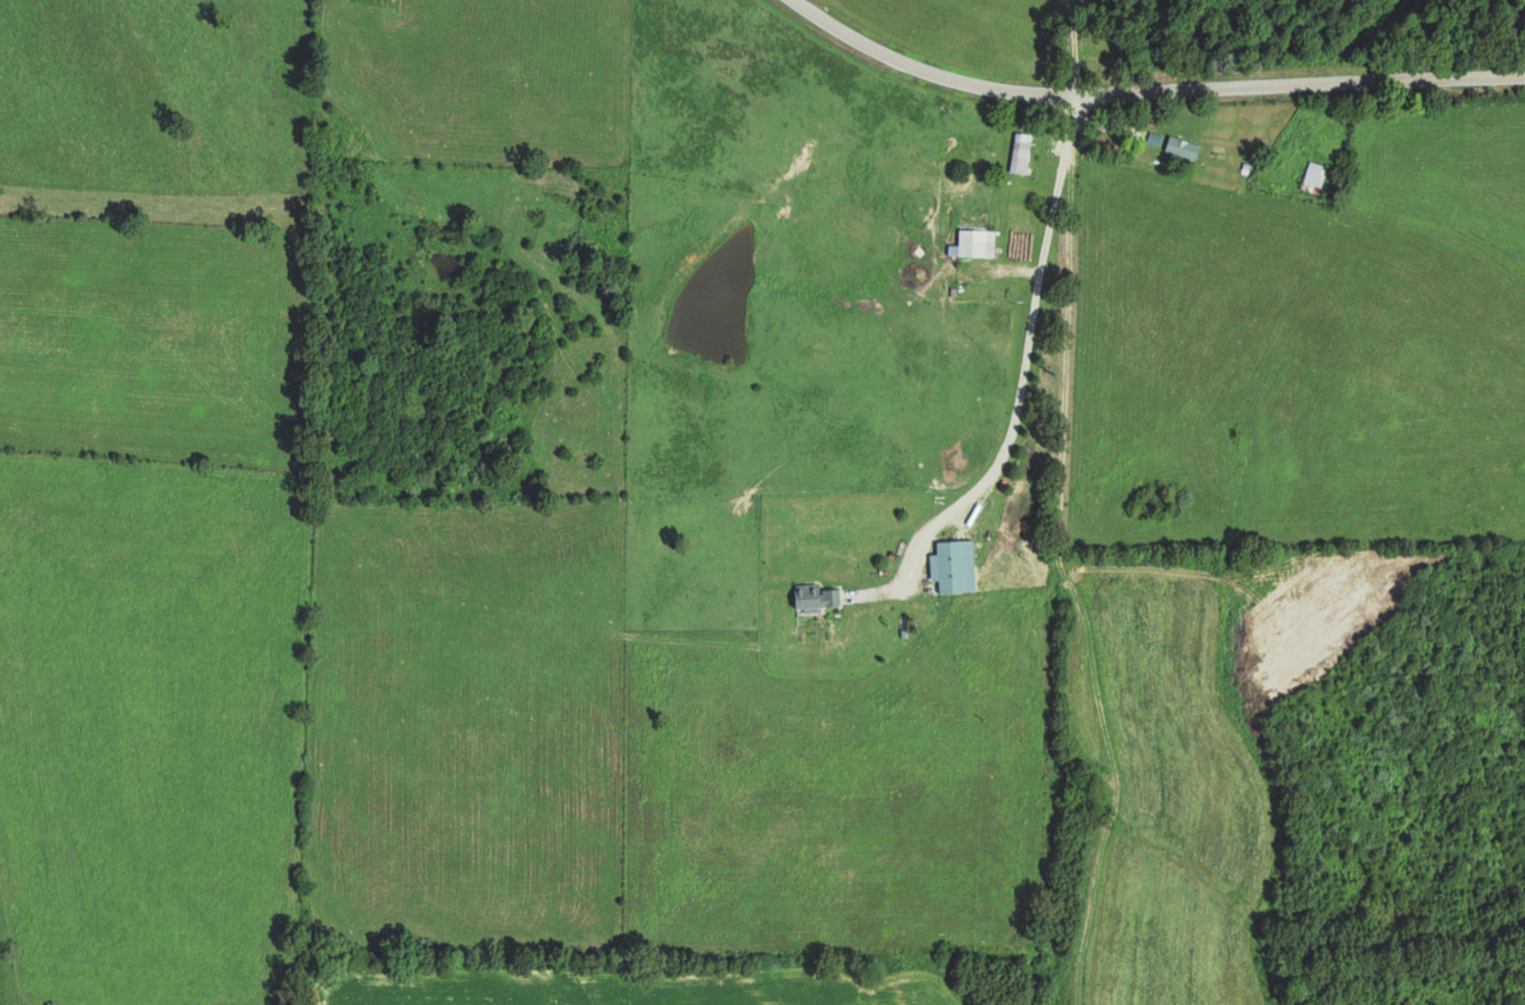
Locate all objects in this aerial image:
road: (1160, 87)
building: (1180, 147)
building: (1019, 152)
building: (1312, 175)
building: (975, 242)
road: (1033, 342)
building: (949, 566)
building: (812, 595)

